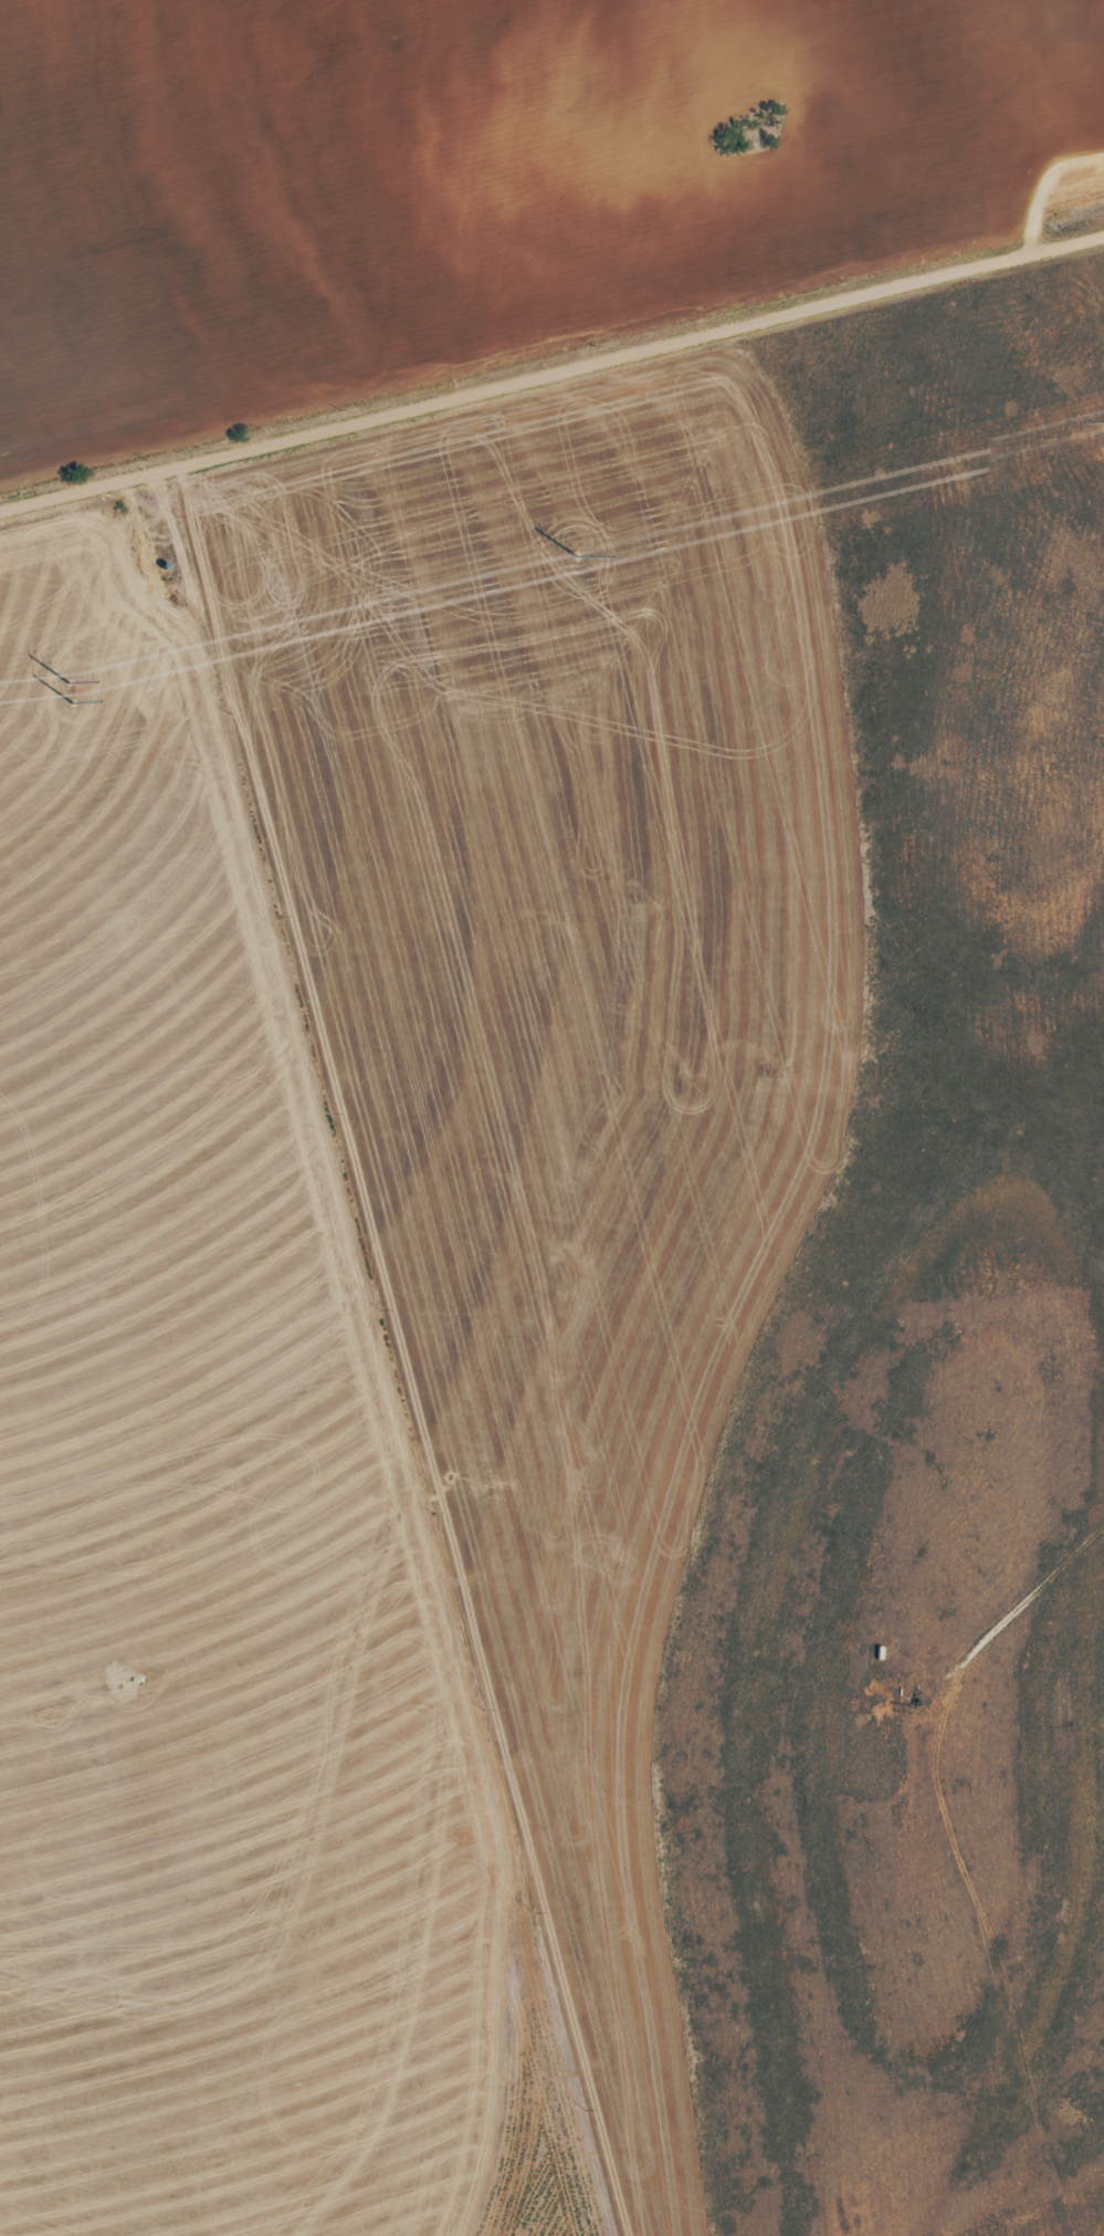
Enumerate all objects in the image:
road: (551, 388)
power tower: (579, 557)
power tower: (73, 692)

